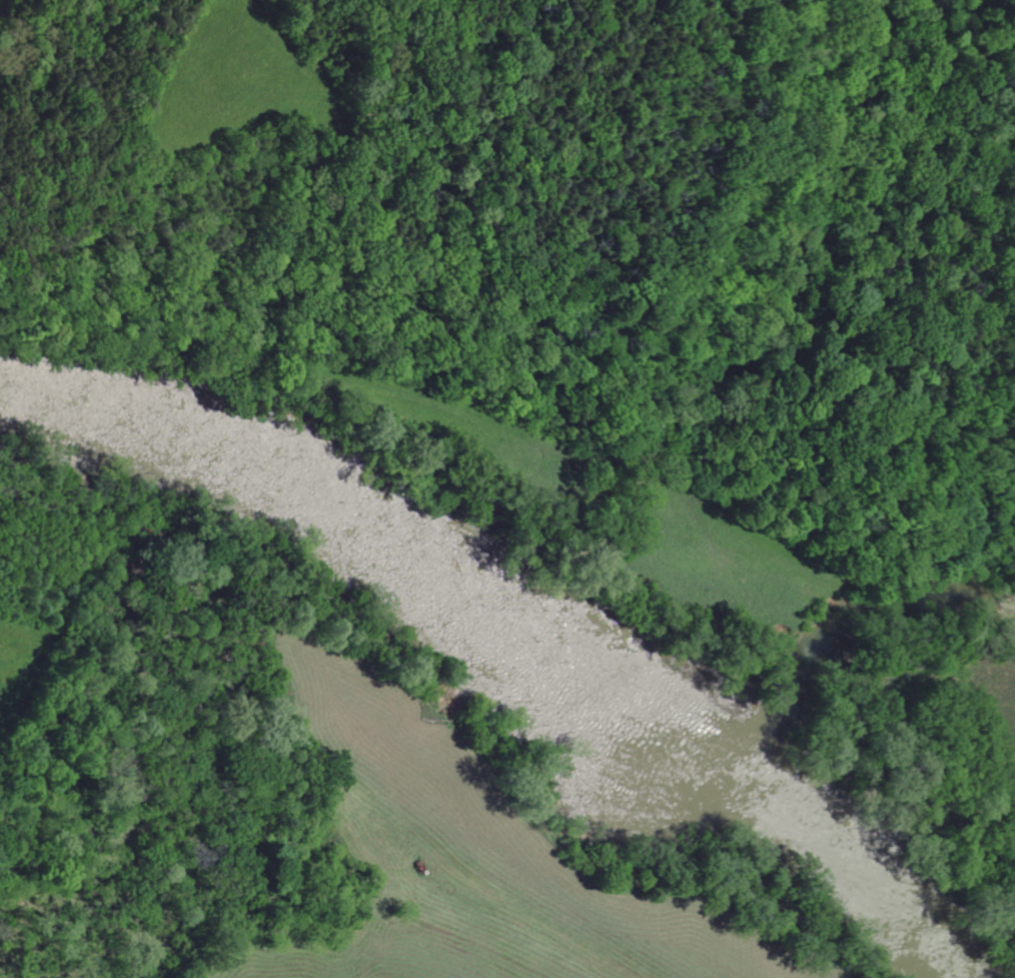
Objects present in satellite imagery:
river: (530, 595)

